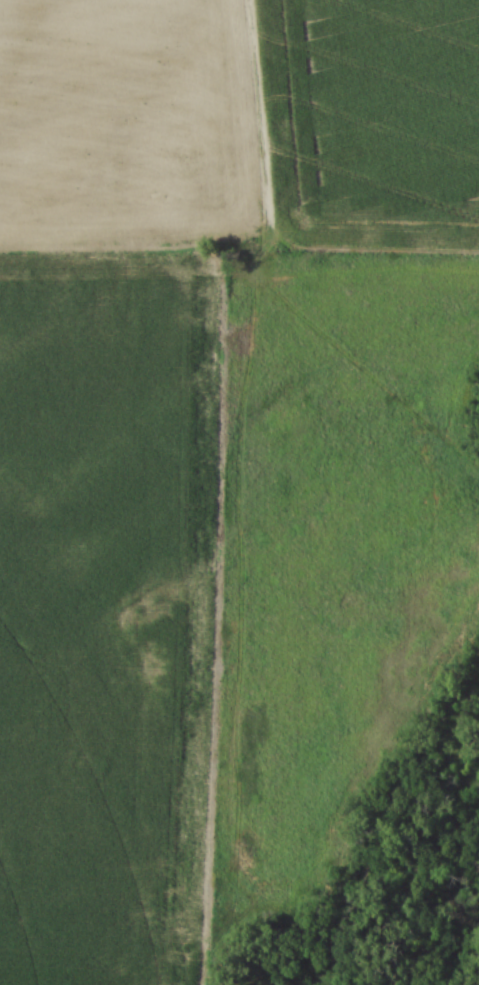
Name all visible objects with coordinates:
road: (255, 117)

